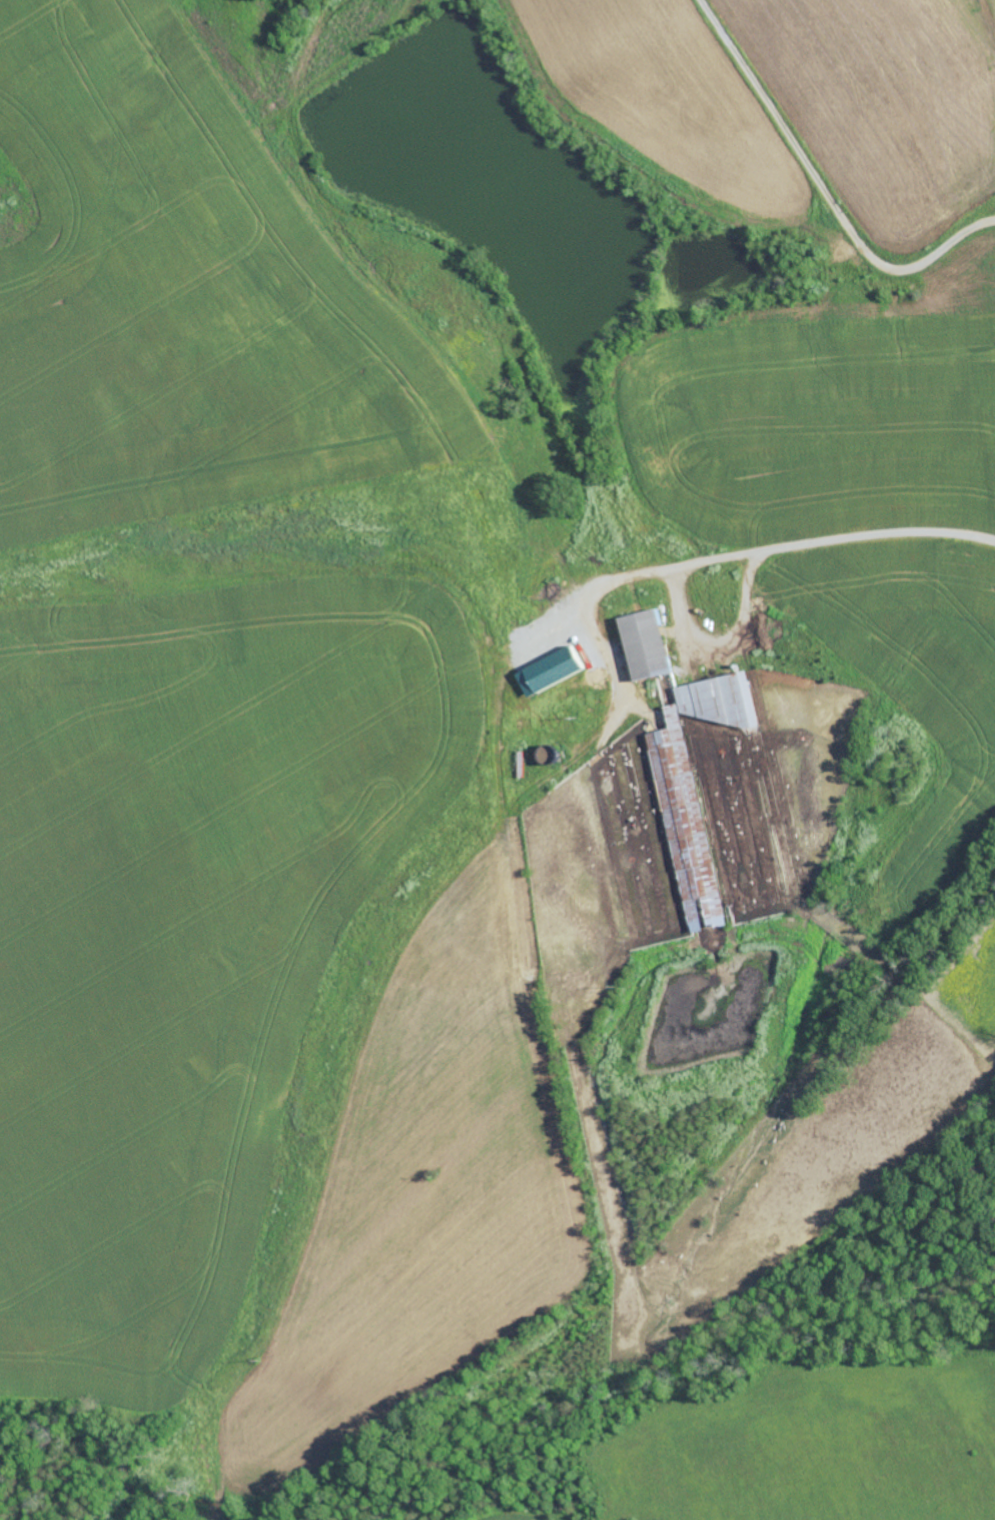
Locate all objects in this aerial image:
road: (822, 189)
road: (873, 537)
road: (698, 632)
building: (643, 644)
building: (549, 671)
building: (694, 790)

